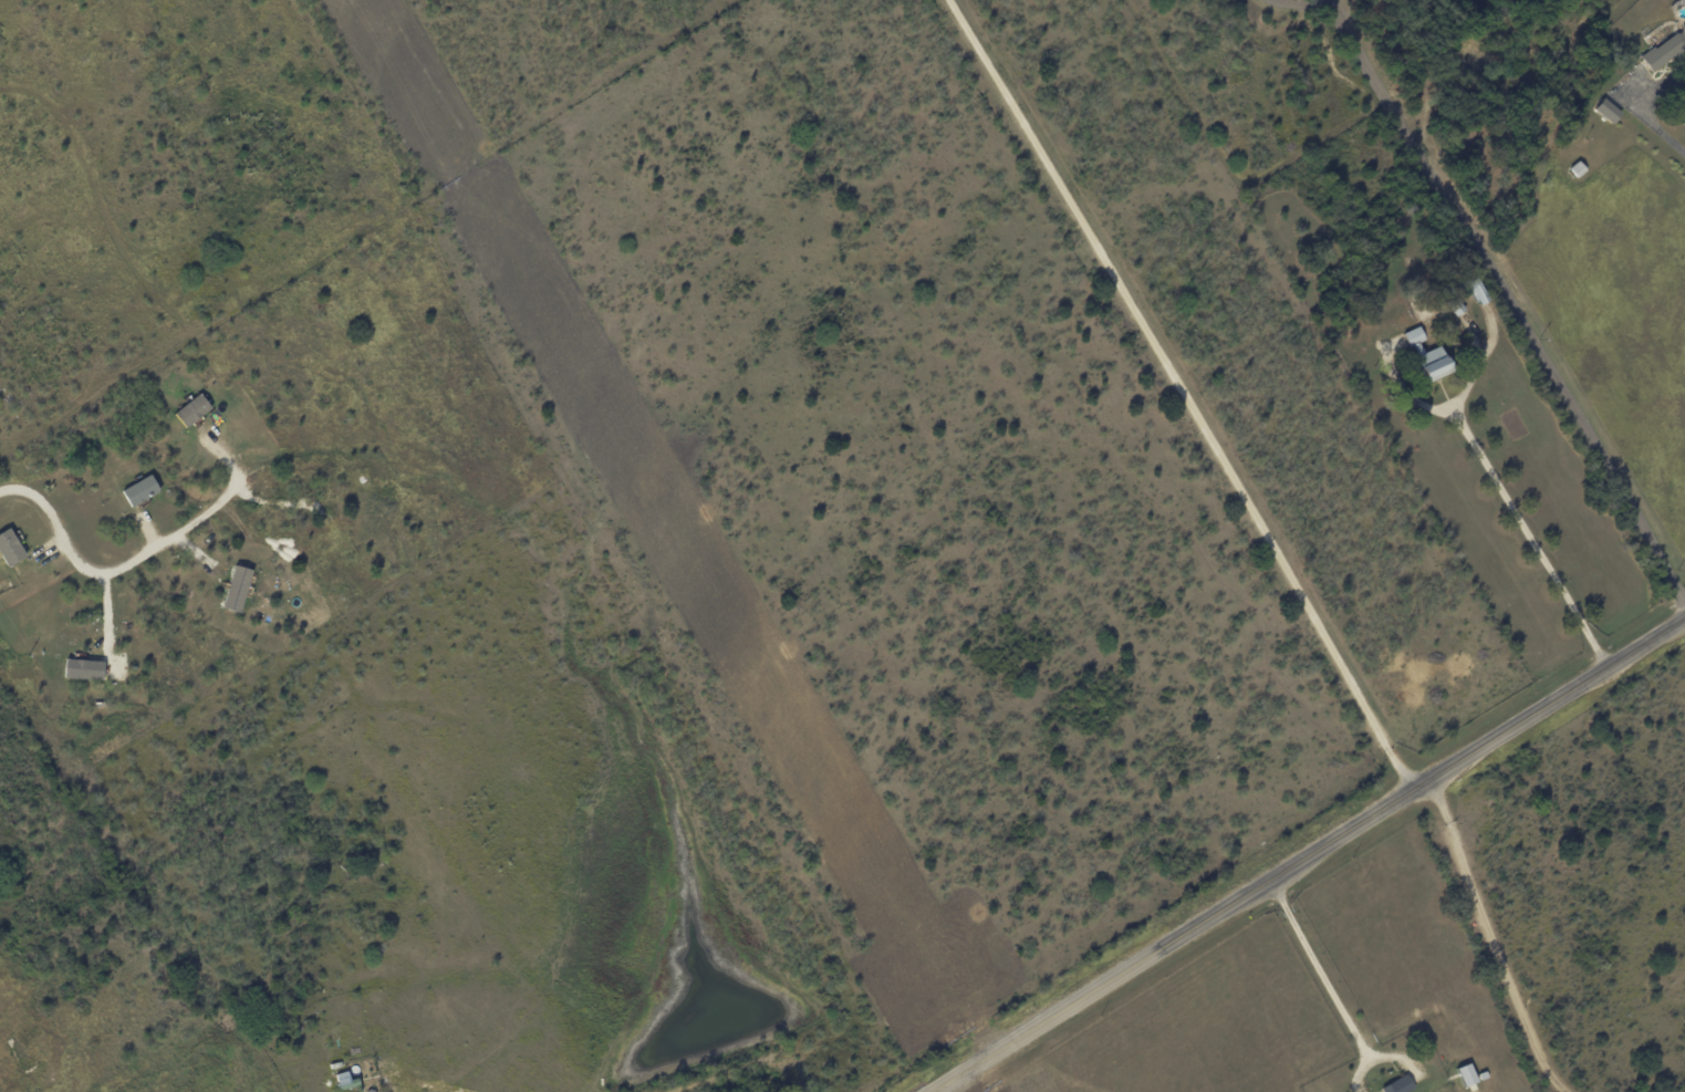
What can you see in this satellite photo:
building: (1665, 51)
building: (1606, 110)
road: (1646, 112)
building: (1476, 291)
building: (1454, 306)
road: (1501, 309)
building: (1427, 356)
road: (1187, 388)
building: (191, 409)
building: (139, 489)
road: (1528, 535)
building: (10, 547)
road: (112, 571)
building: (237, 587)
building: (84, 668)
road: (1309, 854)
road: (1502, 939)
road: (1308, 974)
building: (1466, 1075)
building: (344, 1080)
building: (1398, 1085)

